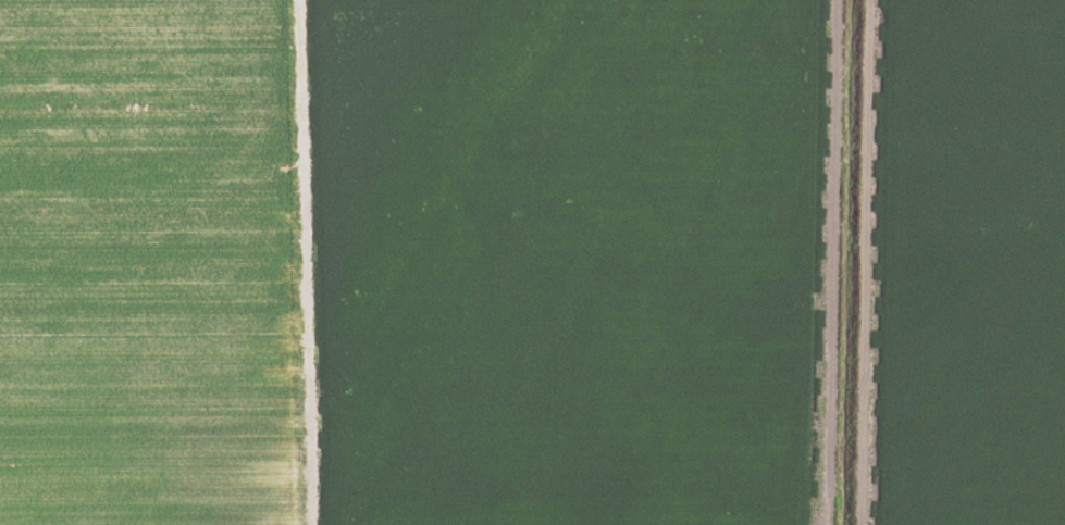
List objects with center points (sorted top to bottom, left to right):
road: (299, 154)
road: (330, 263)

